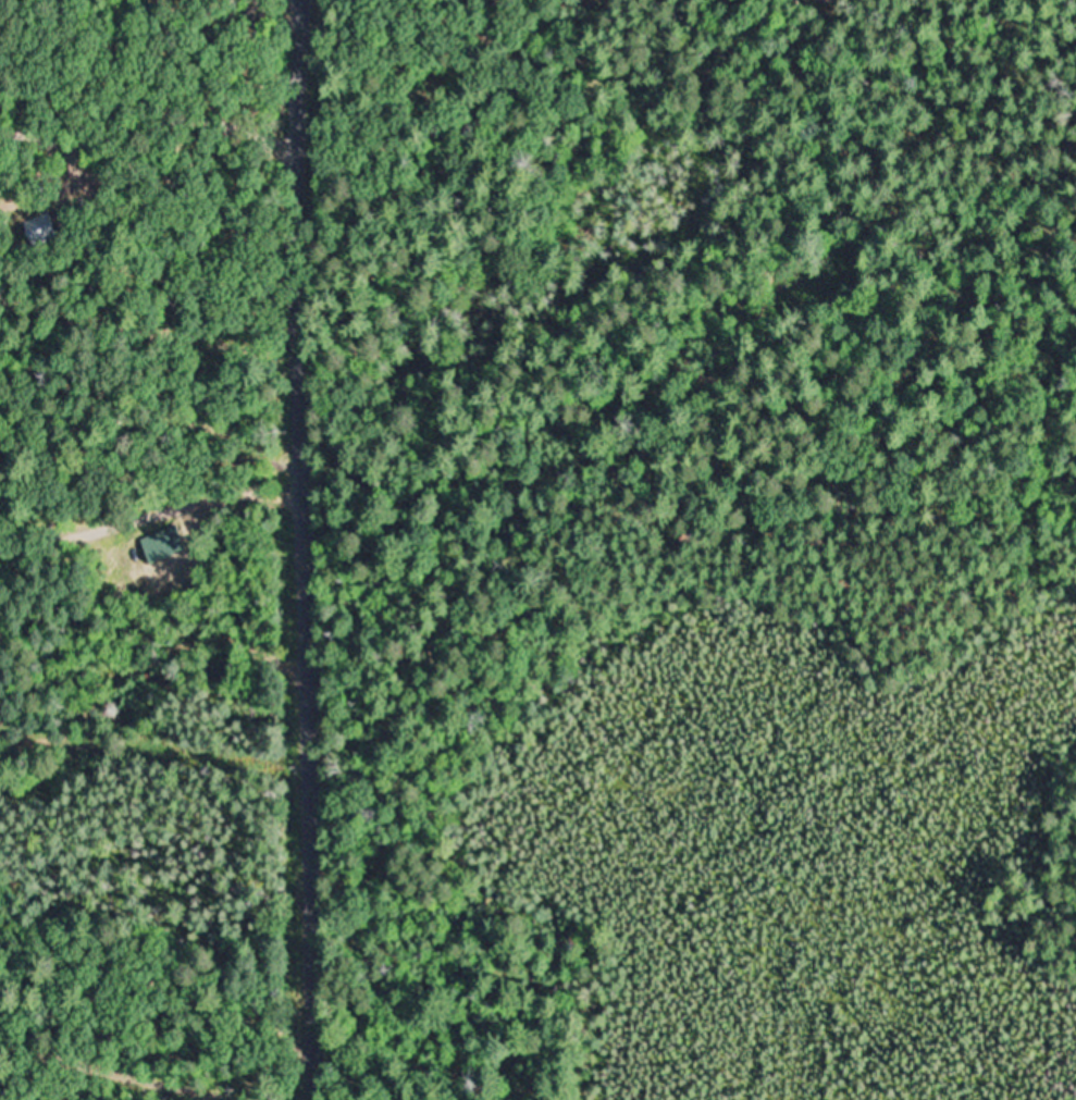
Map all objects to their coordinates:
road: (180, 89)
building: (50, 228)
road: (152, 438)
road: (306, 549)
road: (153, 667)
road: (158, 759)
road: (156, 1040)

